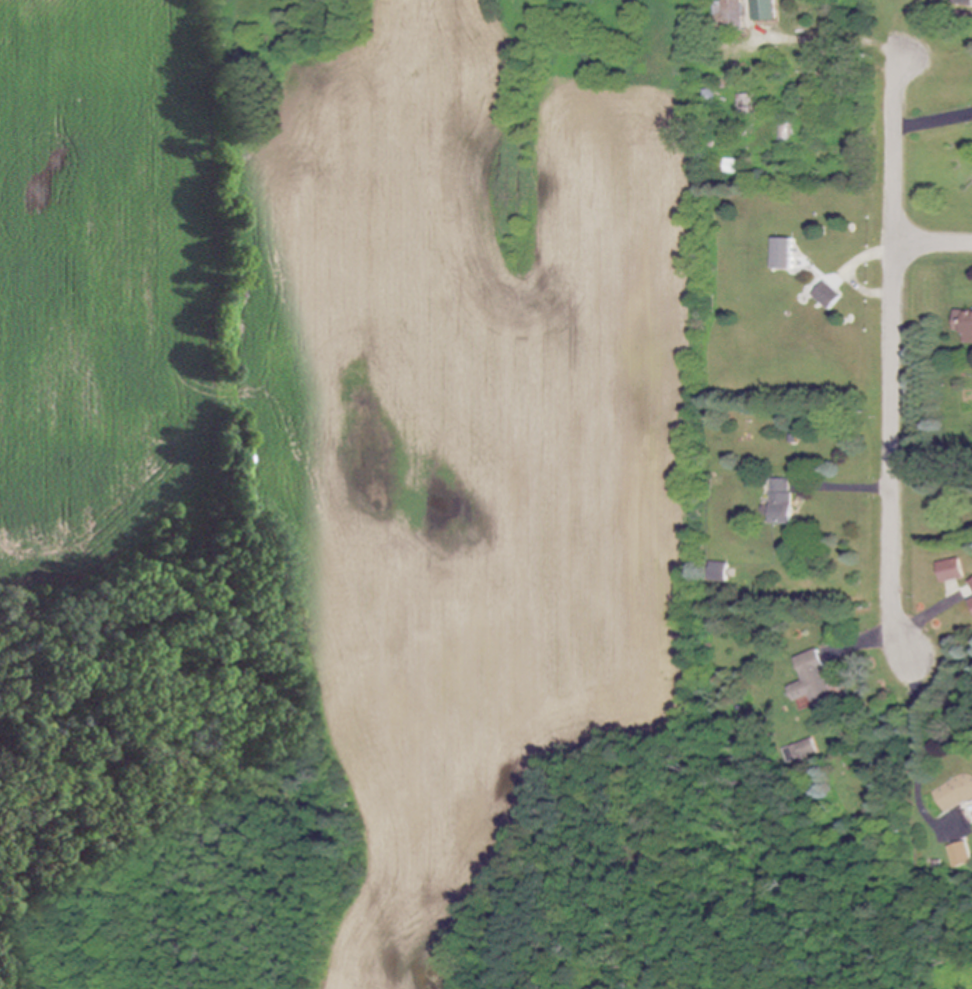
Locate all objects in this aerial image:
building: (964, 3)
building: (767, 11)
building: (730, 12)
road: (841, 39)
building: (748, 105)
road: (934, 120)
road: (897, 152)
building: (735, 167)
road: (934, 244)
building: (786, 254)
road: (855, 272)
building: (828, 297)
building: (964, 324)
road: (895, 448)
road: (856, 489)
building: (783, 503)
building: (950, 571)
building: (720, 573)
building: (970, 584)
building: (971, 603)
road: (904, 628)
building: (814, 683)
road: (917, 739)
building: (801, 752)
building: (956, 794)
building: (961, 856)

